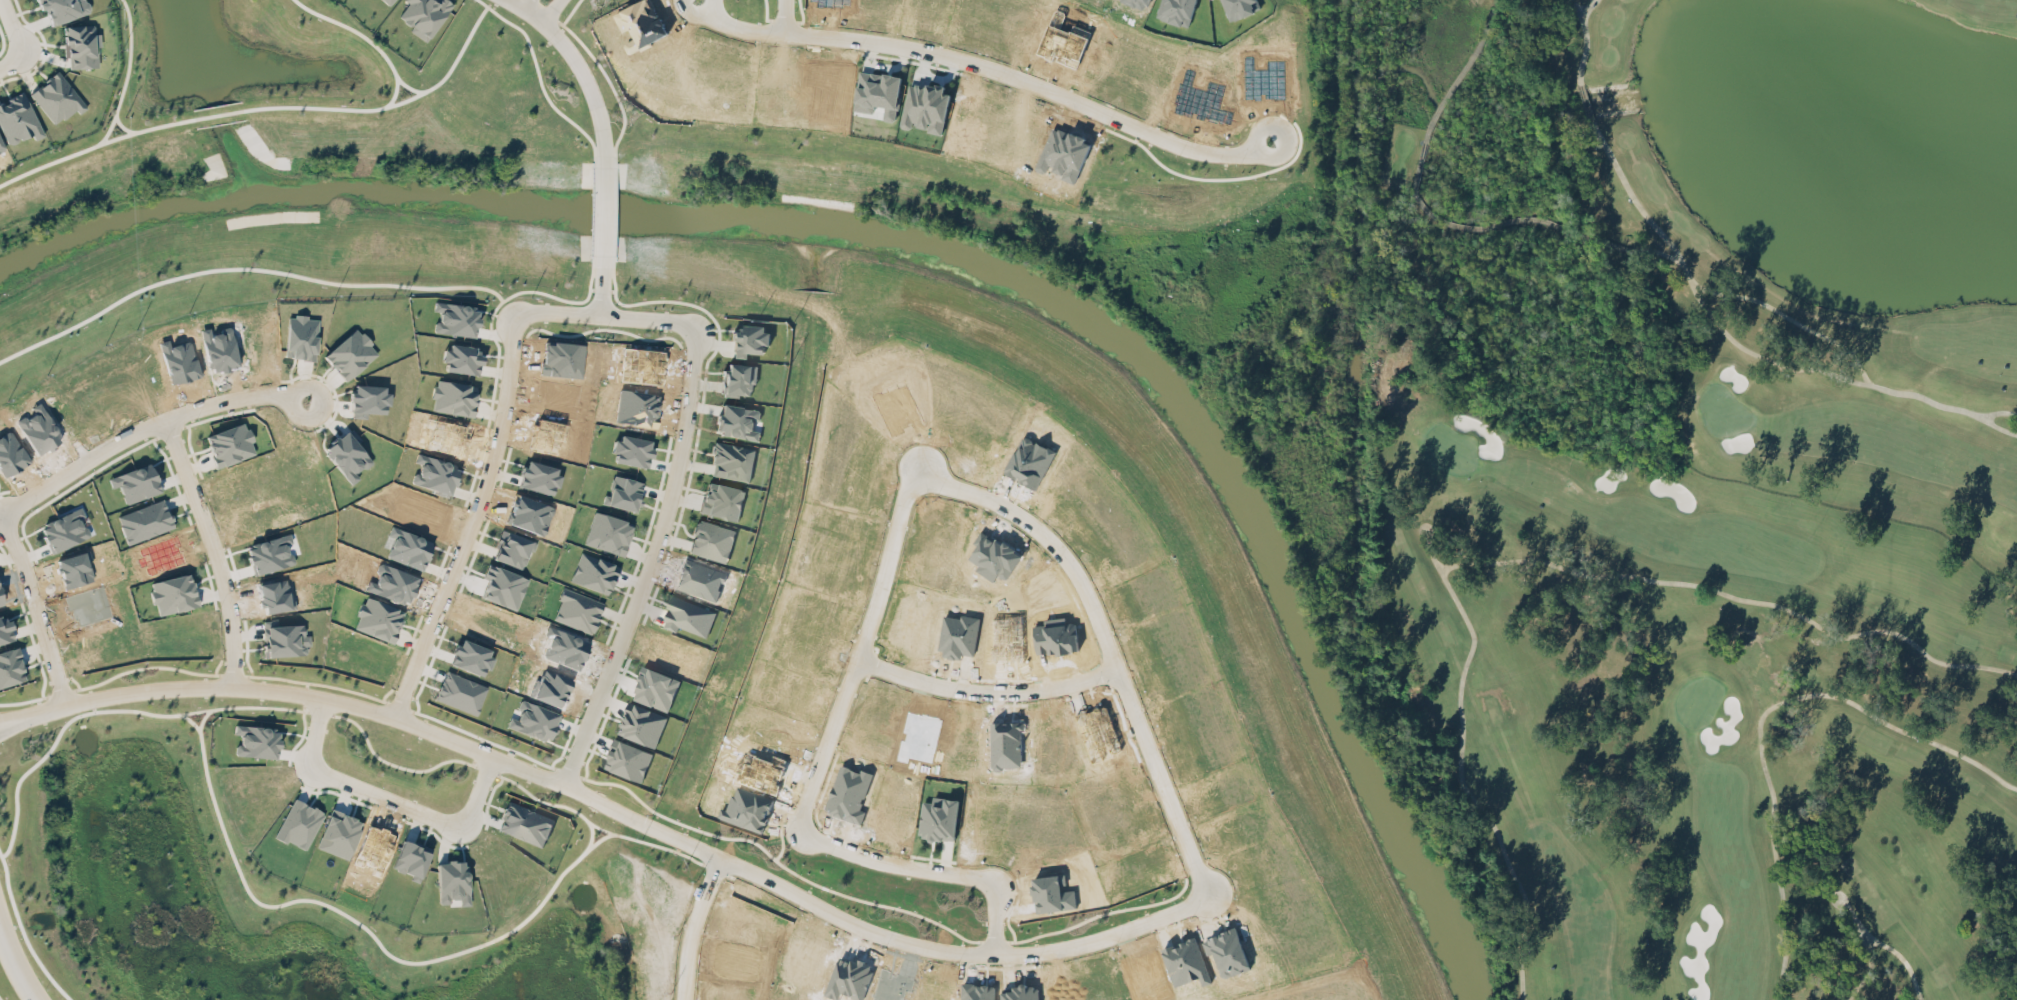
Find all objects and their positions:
building: (387, 1)
road: (711, 7)
building: (1240, 8)
building: (63, 9)
road: (527, 9)
road: (549, 9)
road: (692, 14)
building: (422, 16)
road: (783, 16)
building: (81, 45)
road: (10, 46)
road: (996, 70)
road: (586, 84)
road: (393, 96)
building: (56, 98)
road: (118, 101)
road: (221, 114)
building: (18, 119)
road: (602, 212)
river: (947, 247)
road: (256, 268)
road: (599, 289)
road: (605, 317)
building: (350, 354)
building: (461, 358)
building: (453, 397)
road: (144, 428)
building: (631, 450)
building: (538, 476)
park: (1674, 483)
building: (145, 521)
road: (472, 523)
building: (63, 530)
building: (607, 532)
building: (512, 549)
road: (214, 550)
road: (650, 565)
building: (593, 572)
building: (173, 593)
road: (36, 610)
building: (577, 610)
building: (688, 616)
road: (1097, 620)
building: (5, 630)
building: (286, 640)
building: (655, 688)
building: (460, 692)
road: (986, 695)
road: (334, 701)
road: (114, 710)
road: (203, 717)
road: (189, 718)
road: (5, 721)
road: (5, 724)
building: (641, 724)
building: (257, 741)
building: (628, 759)
road: (465, 761)
road: (388, 800)
building: (526, 823)
building: (302, 824)
building: (338, 833)
road: (591, 835)
building: (411, 858)
building: (452, 881)
road: (693, 928)
road: (367, 929)
road: (23, 932)
road: (16, 964)

